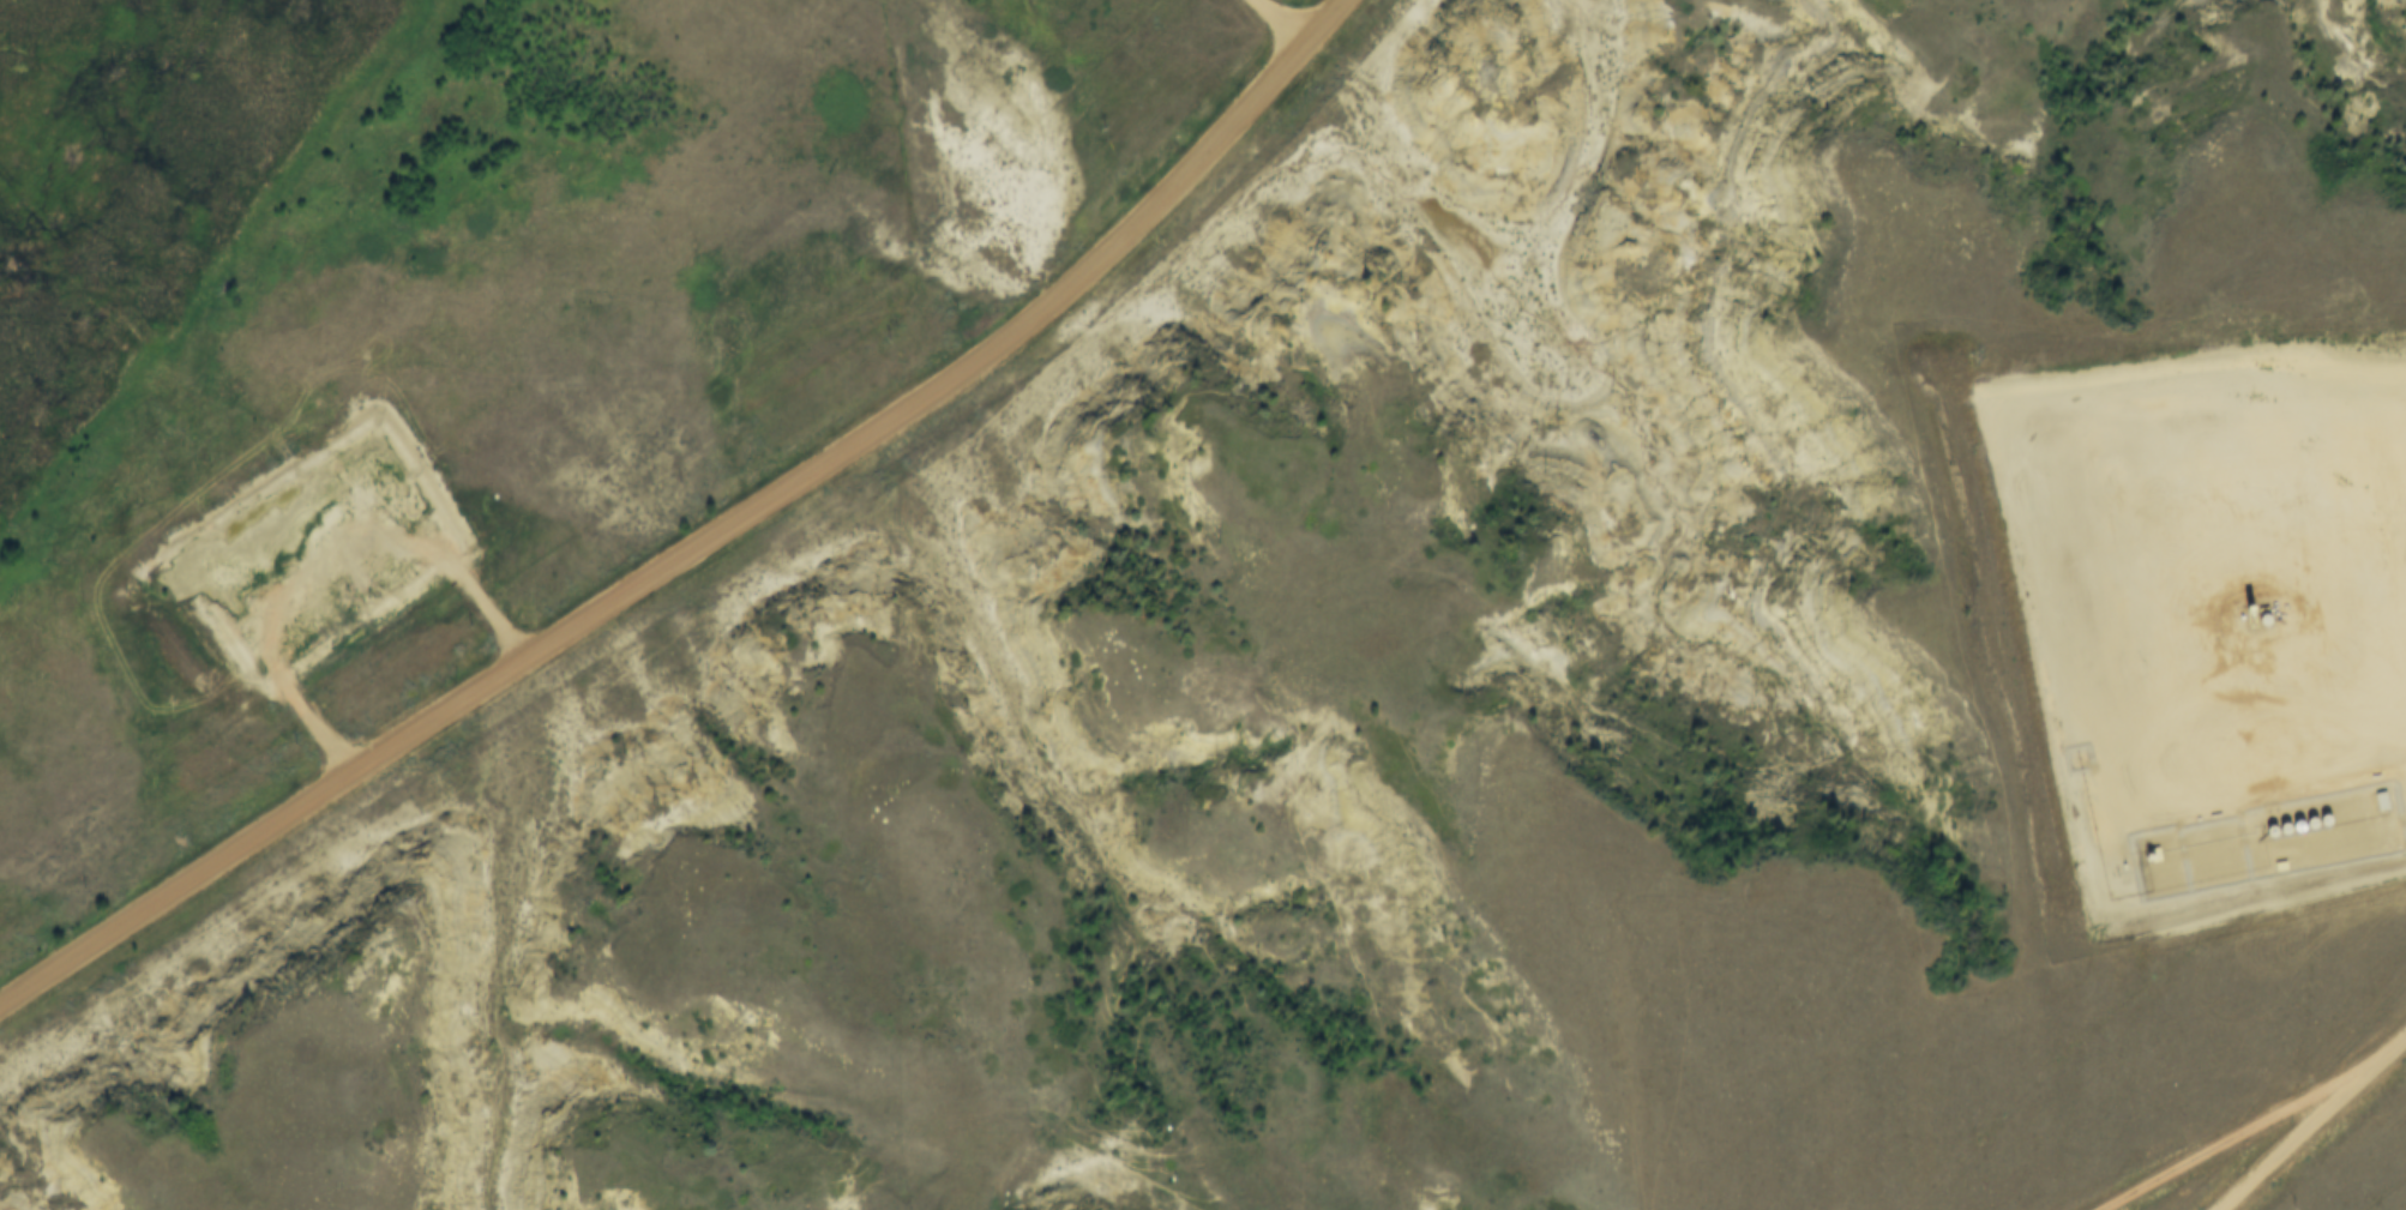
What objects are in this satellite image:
road: (1276, 23)
road: (705, 542)
road: (306, 550)
building: (218, 580)
road: (2263, 1125)
road: (2299, 1133)

